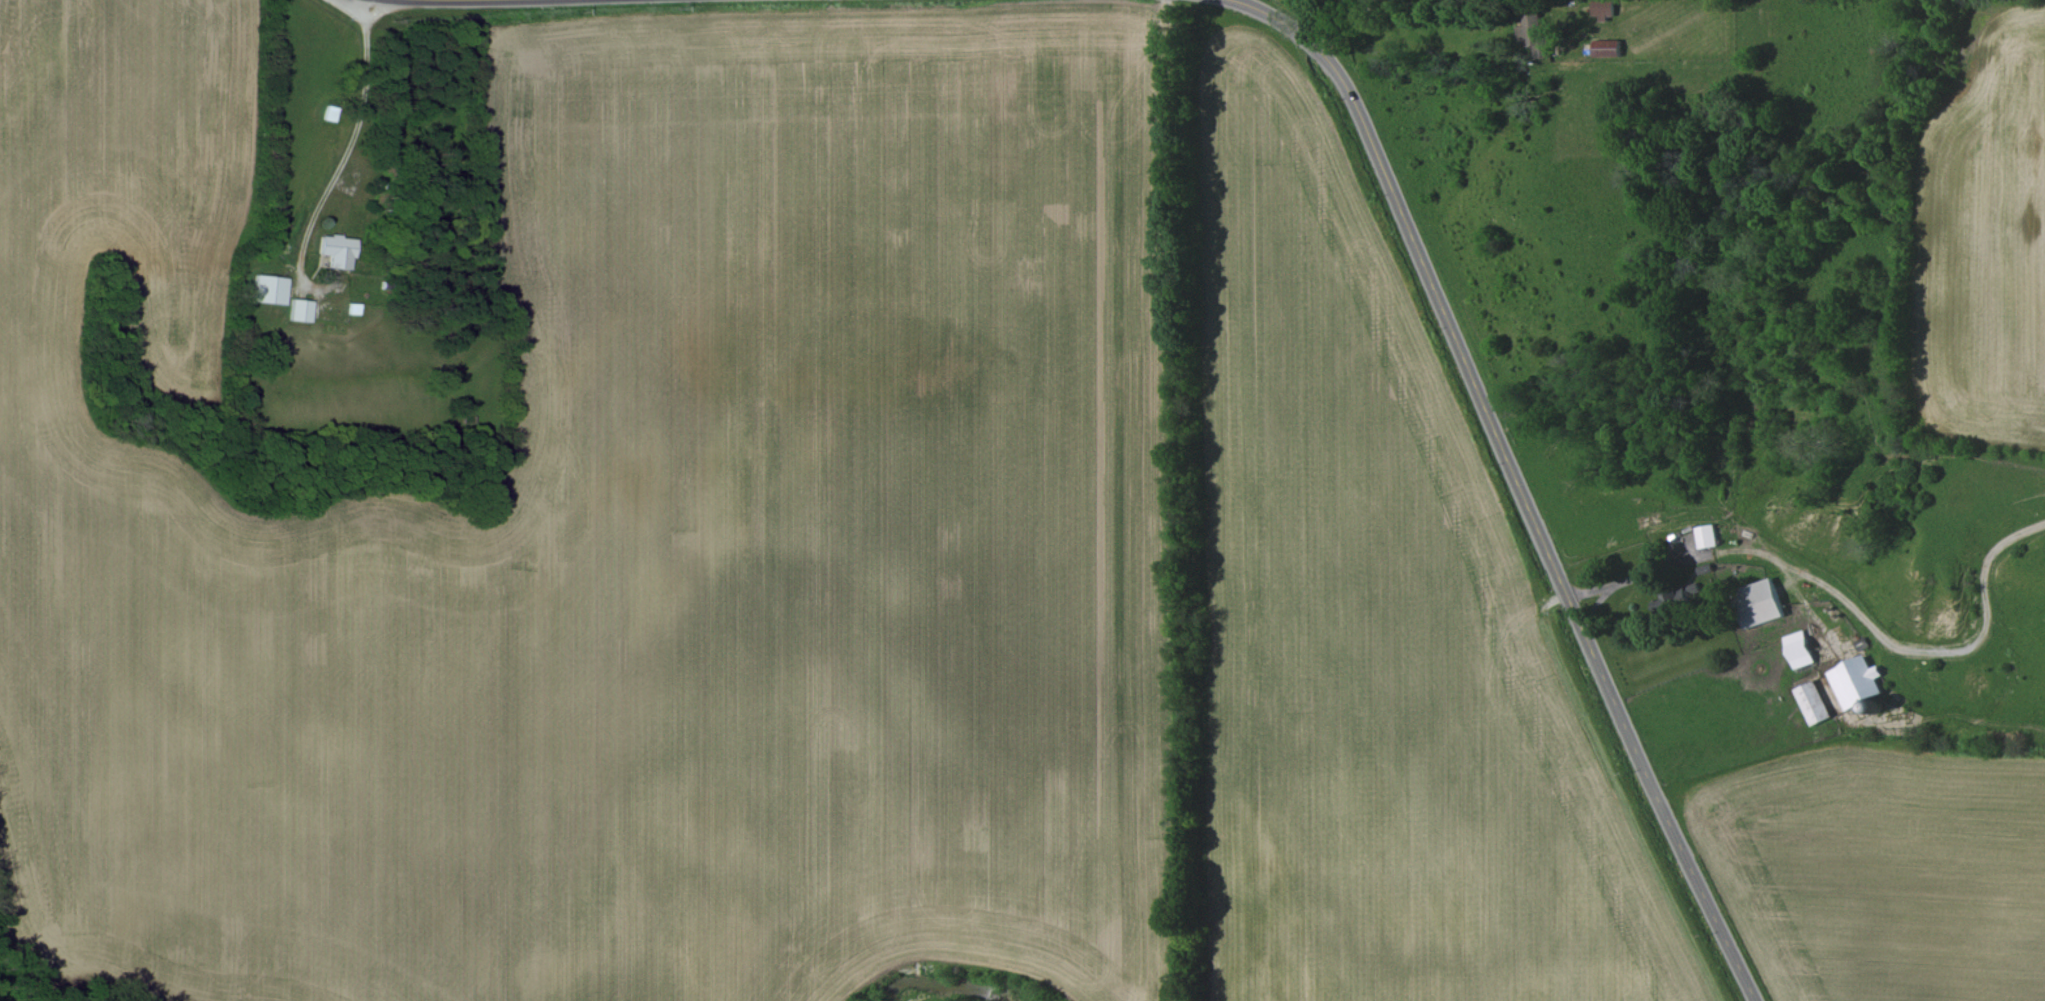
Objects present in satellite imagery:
building: (1603, 8)
road: (1447, 15)
building: (1533, 34)
building: (1606, 48)
road: (352, 138)
building: (337, 250)
building: (270, 289)
building: (300, 310)
road: (1513, 478)
building: (1706, 536)
road: (1635, 578)
building: (1673, 599)
building: (1758, 603)
building: (1798, 649)
building: (1856, 681)
building: (1813, 703)

